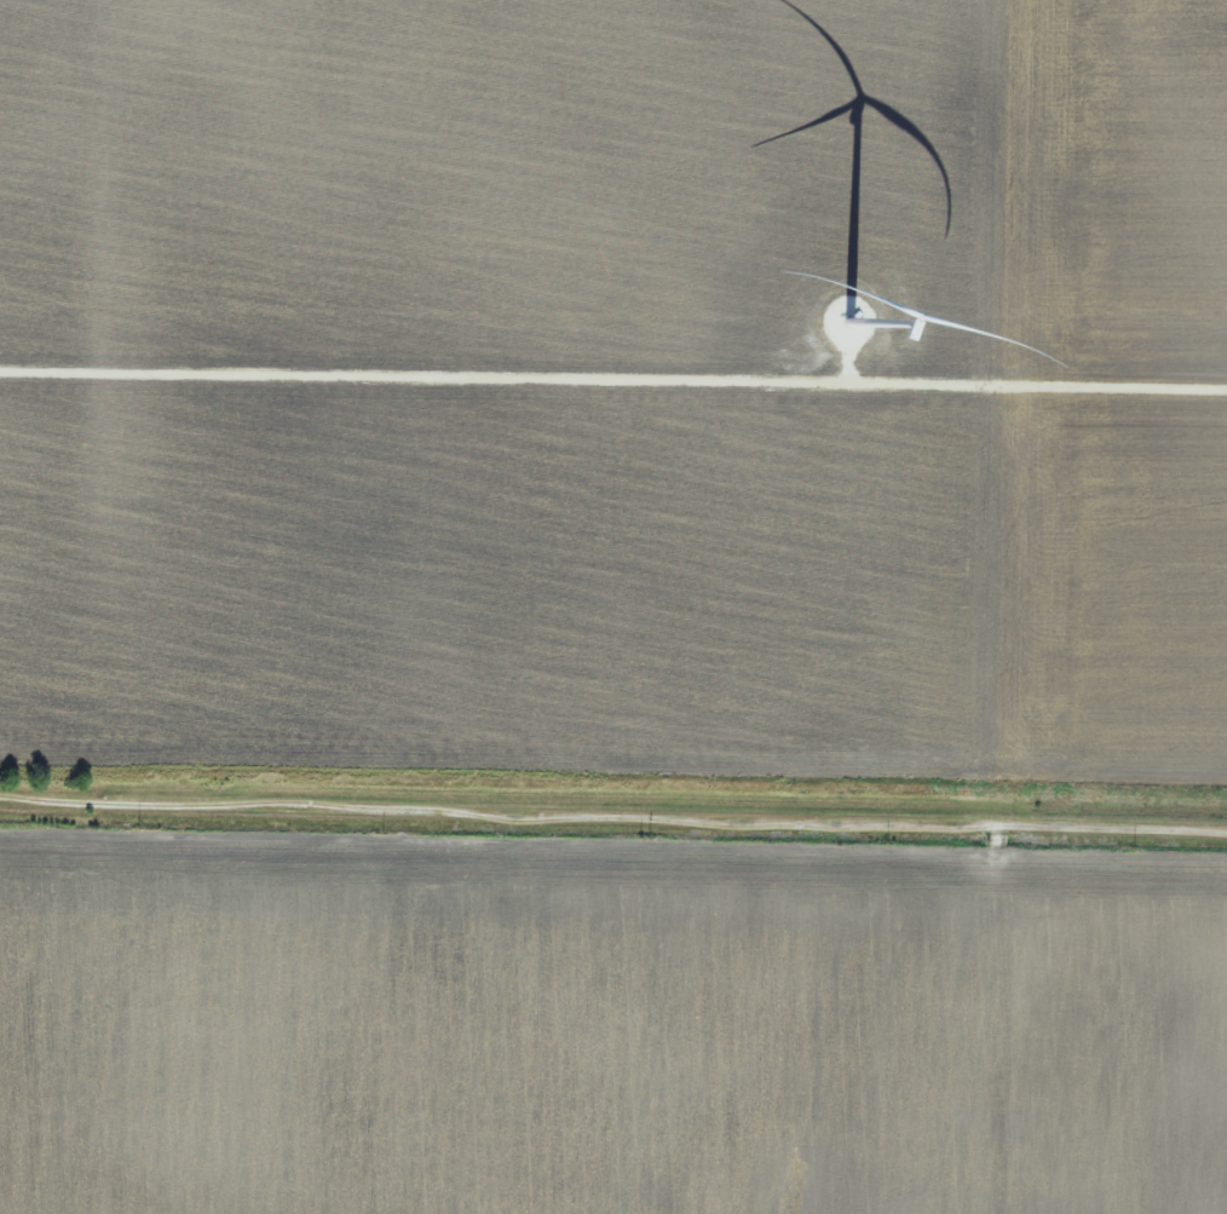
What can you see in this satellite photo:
wind turbine: (856, 321)
road: (612, 823)
road: (987, 1024)

